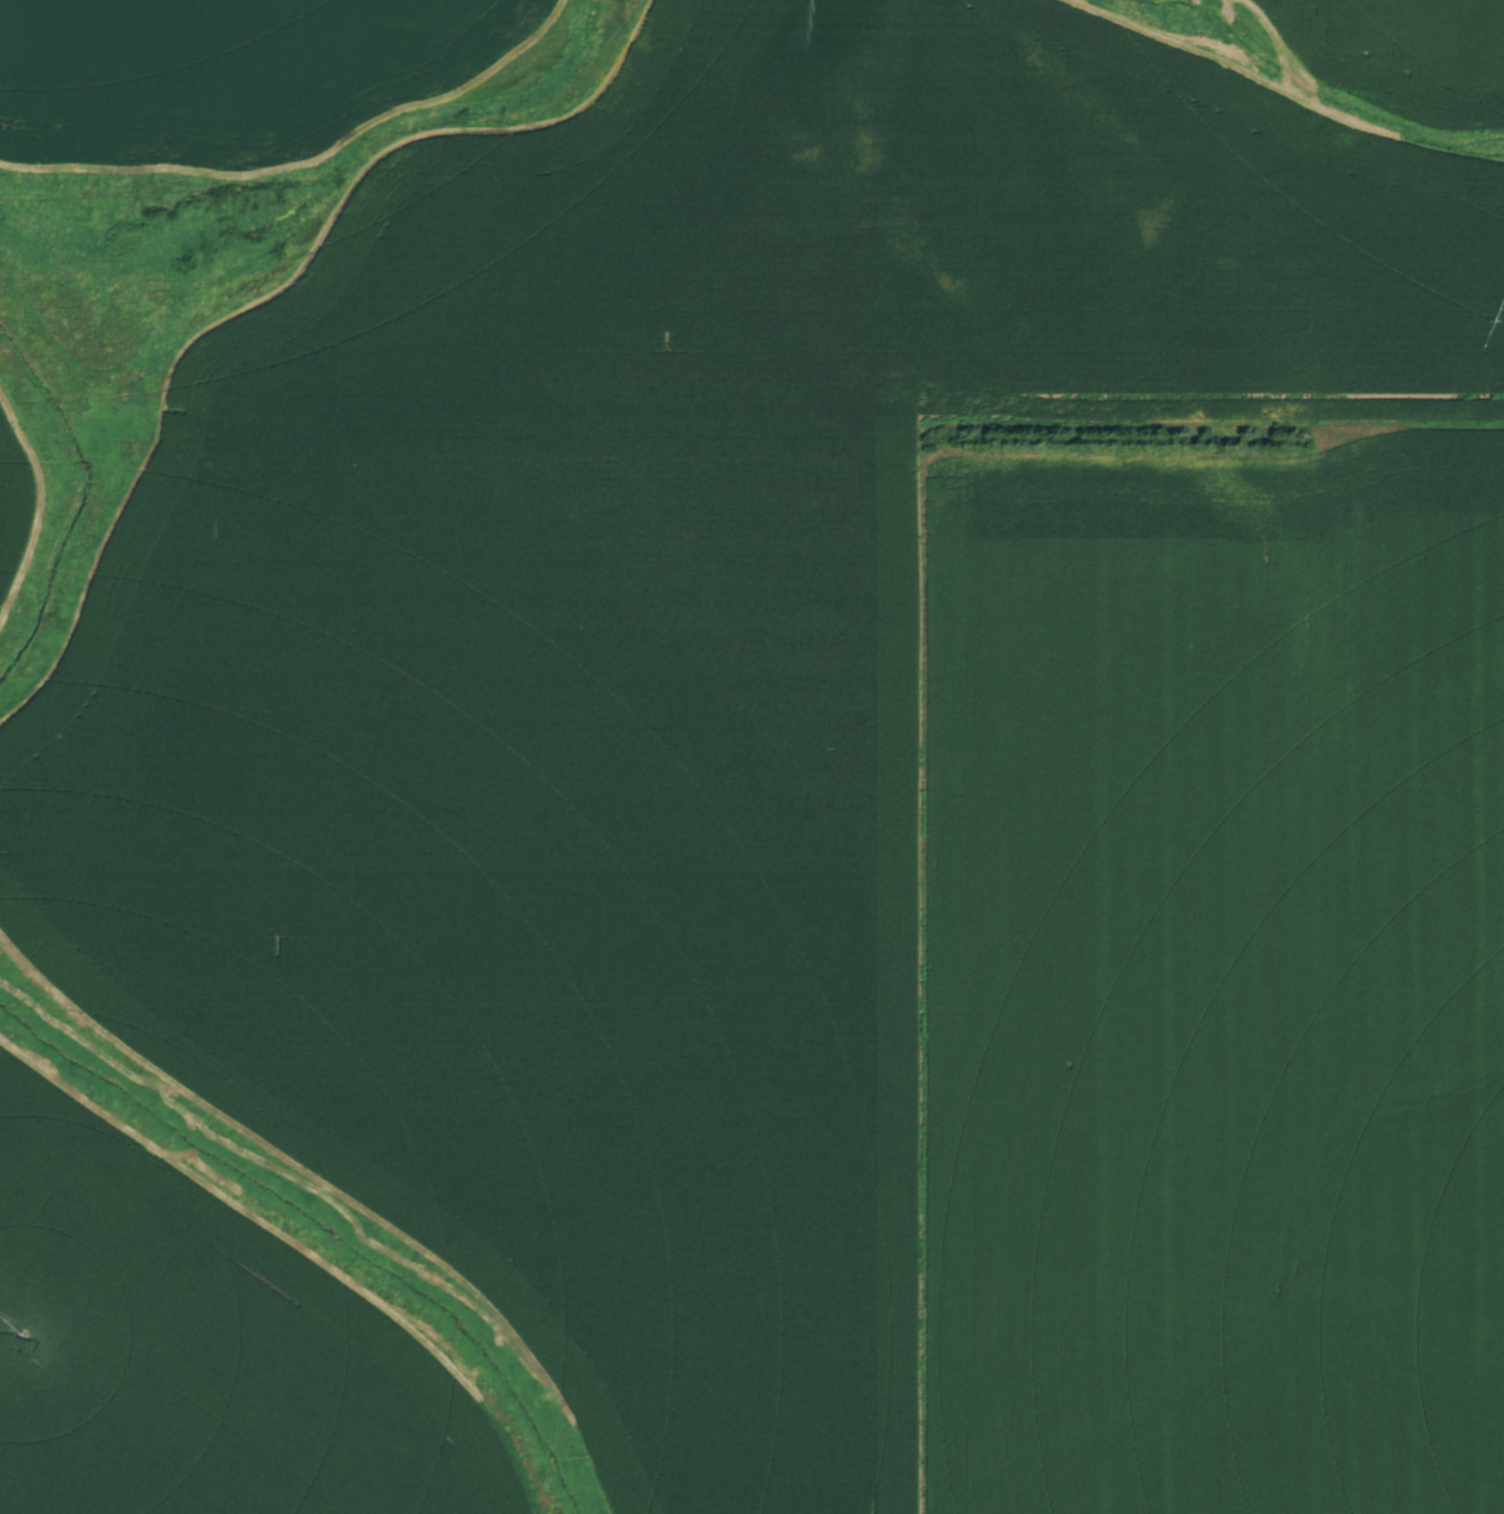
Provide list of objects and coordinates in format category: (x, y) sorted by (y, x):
crop: (1402, 49)

